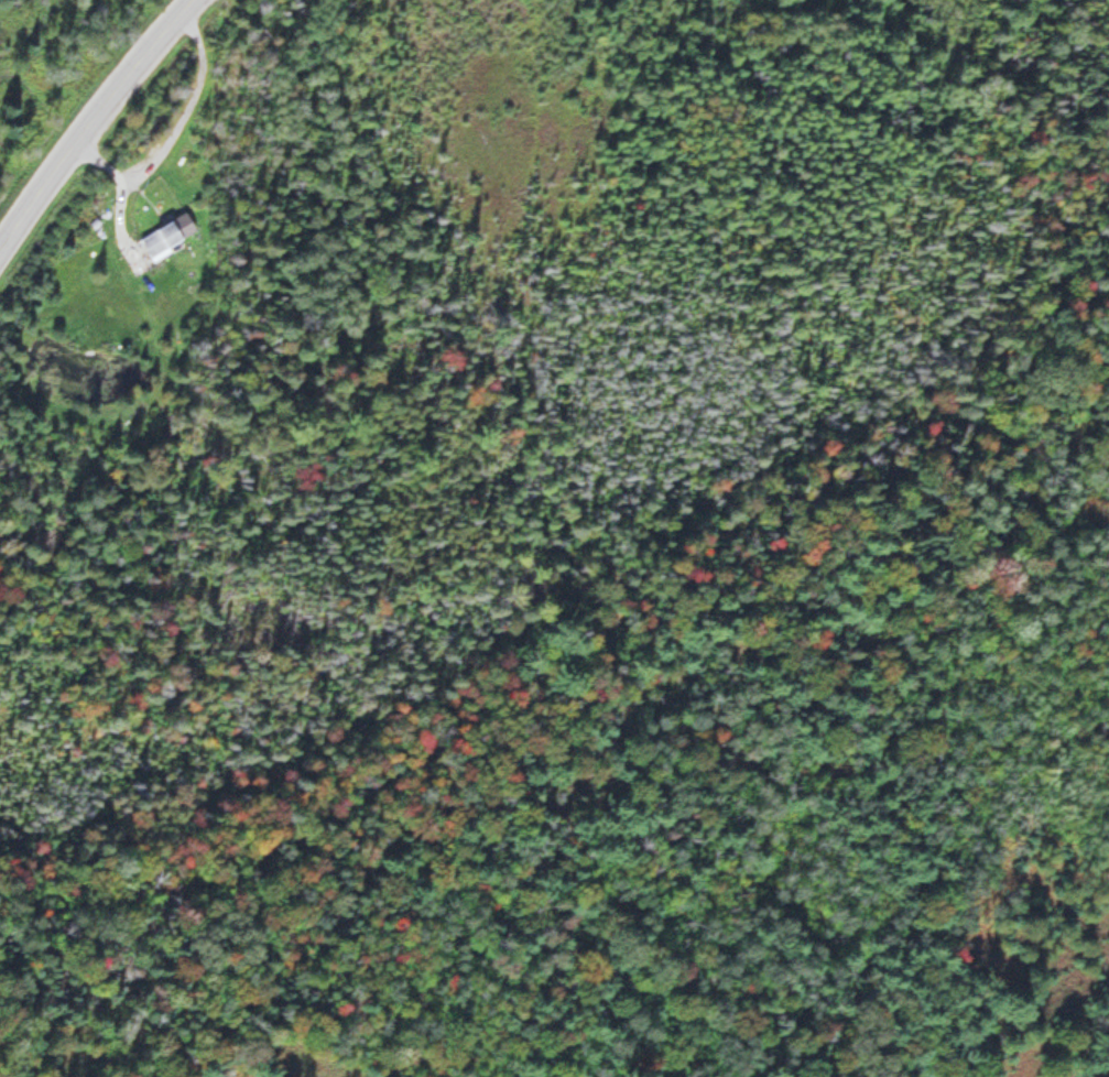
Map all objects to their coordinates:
road: (90, 122)
building: (167, 235)

